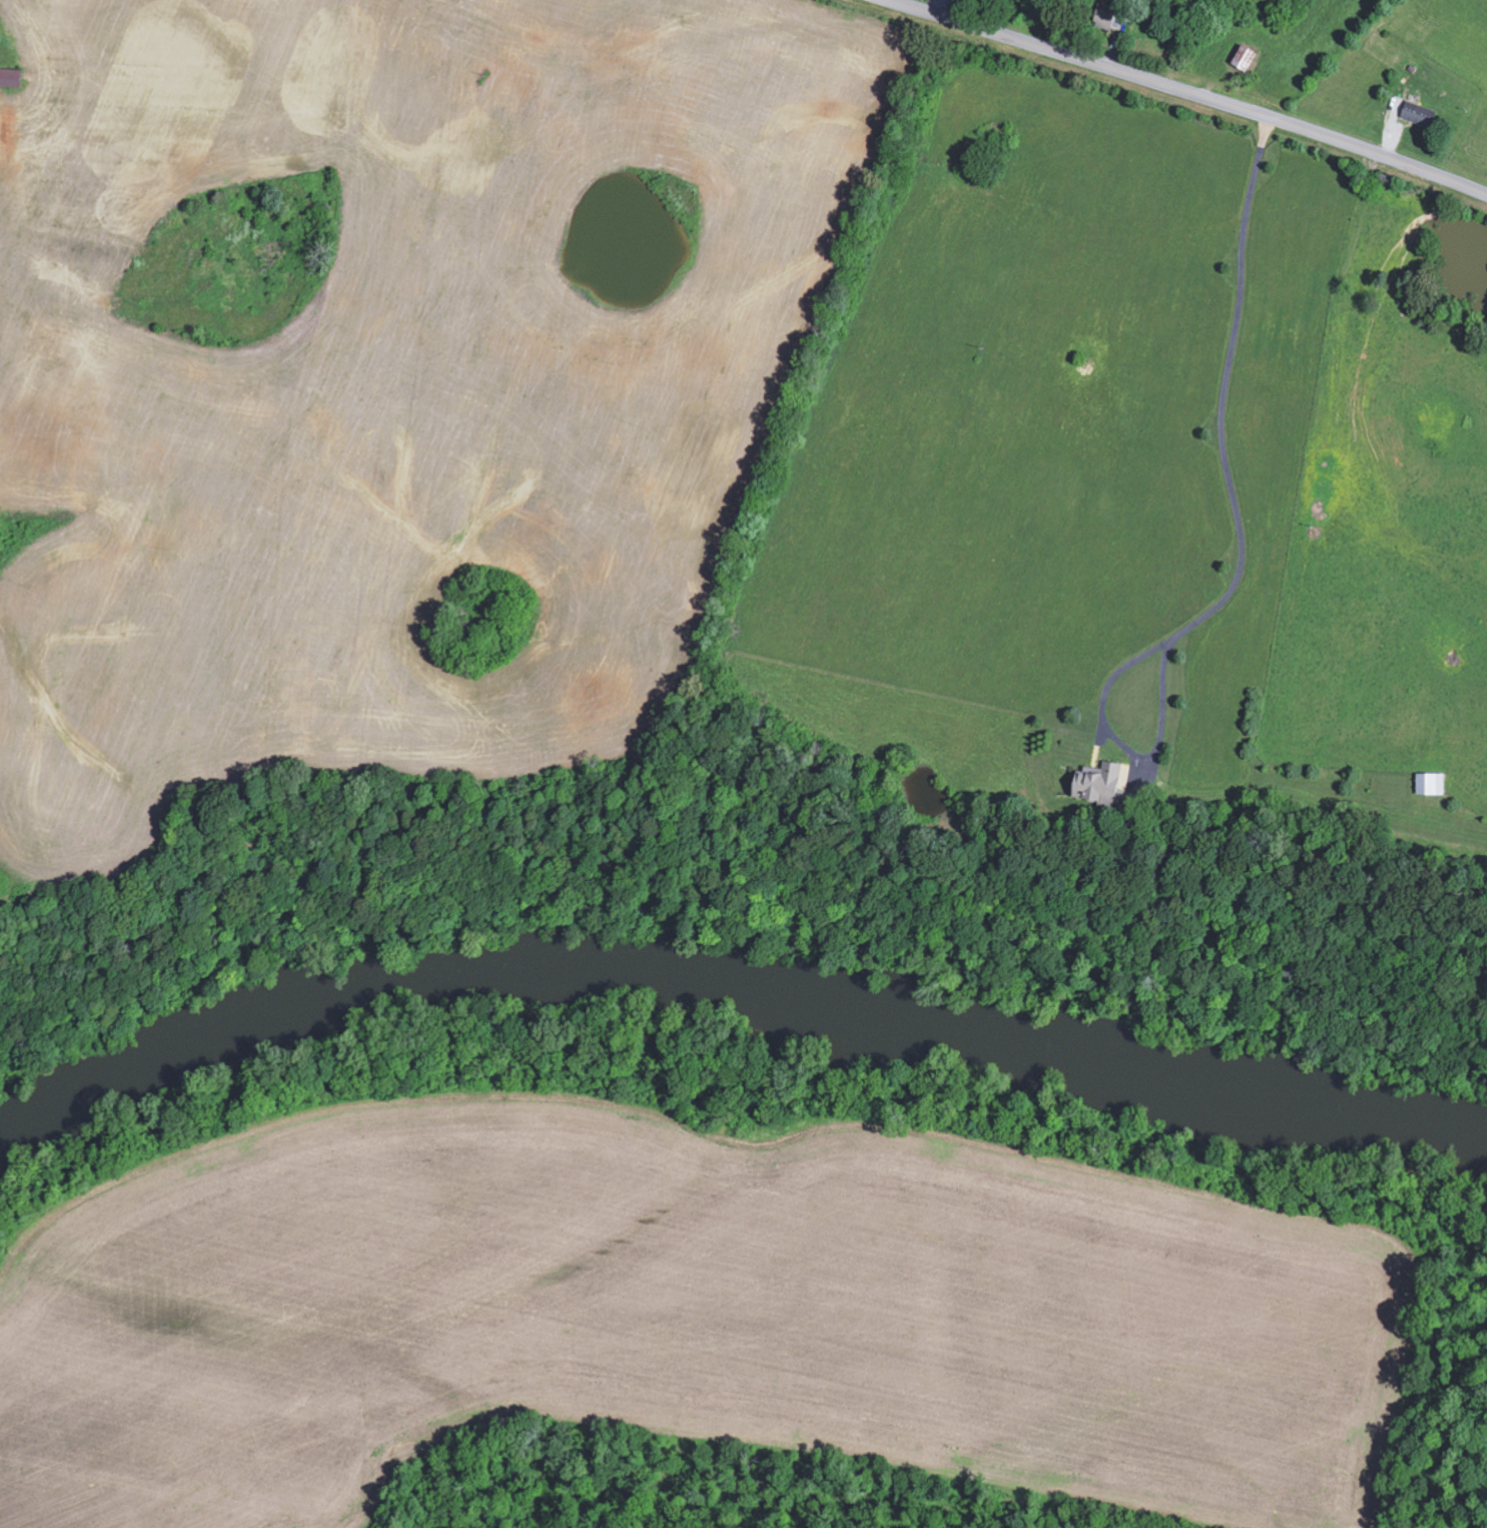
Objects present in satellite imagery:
road: (937, 7)
building: (1109, 14)
building: (1243, 56)
road: (1189, 92)
building: (1418, 113)
road: (1240, 540)
building: (1099, 783)
building: (1430, 784)
river: (732, 1004)

